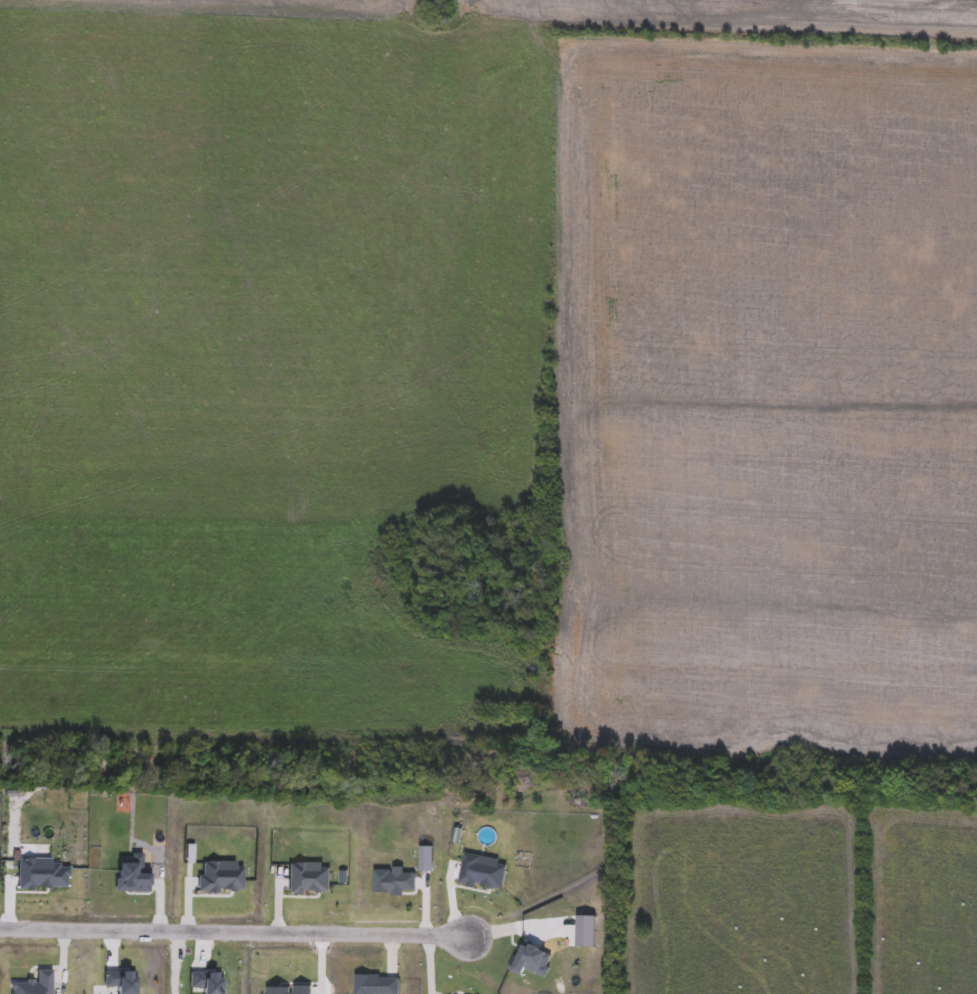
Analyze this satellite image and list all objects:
building: (479, 871)
building: (42, 875)
building: (308, 879)
building: (135, 880)
building: (394, 881)
road: (233, 932)
building: (119, 980)
building: (204, 982)
building: (375, 985)
building: (284, 991)

